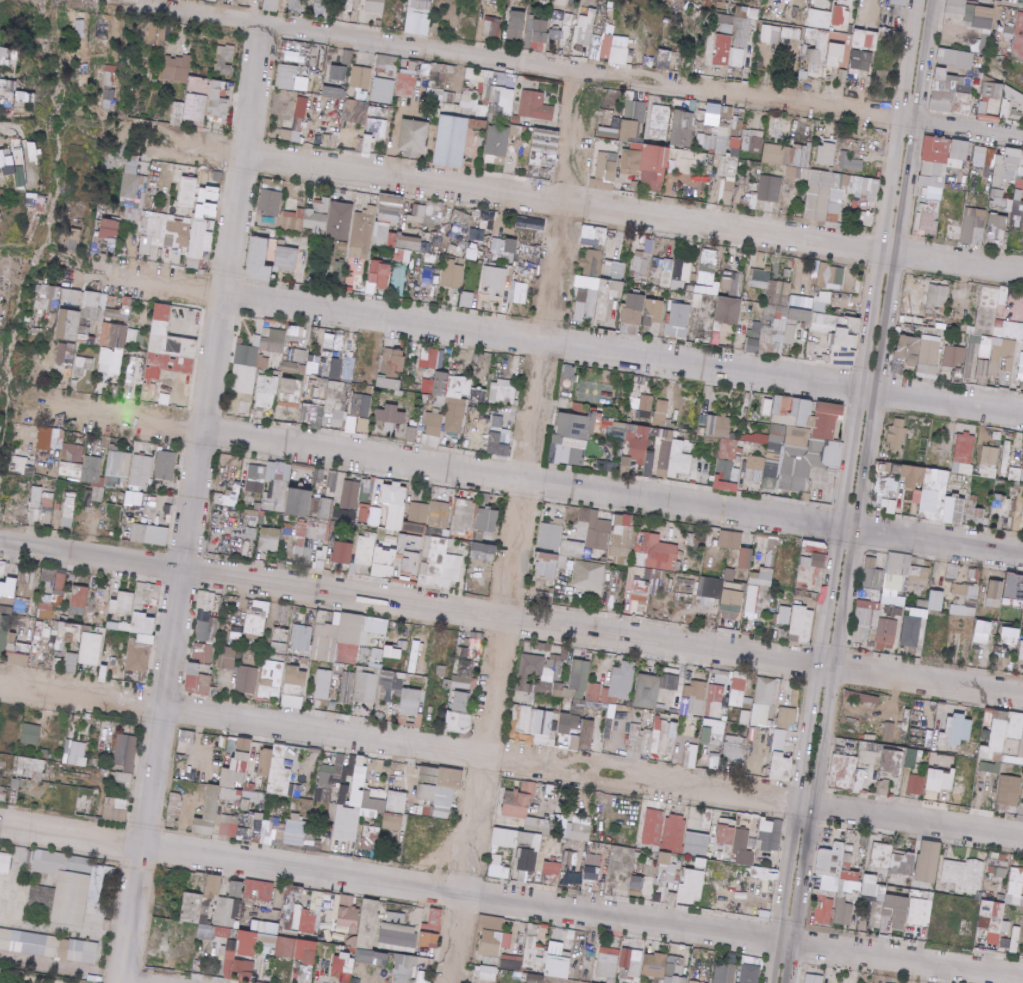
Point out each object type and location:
park: (9, 981)

